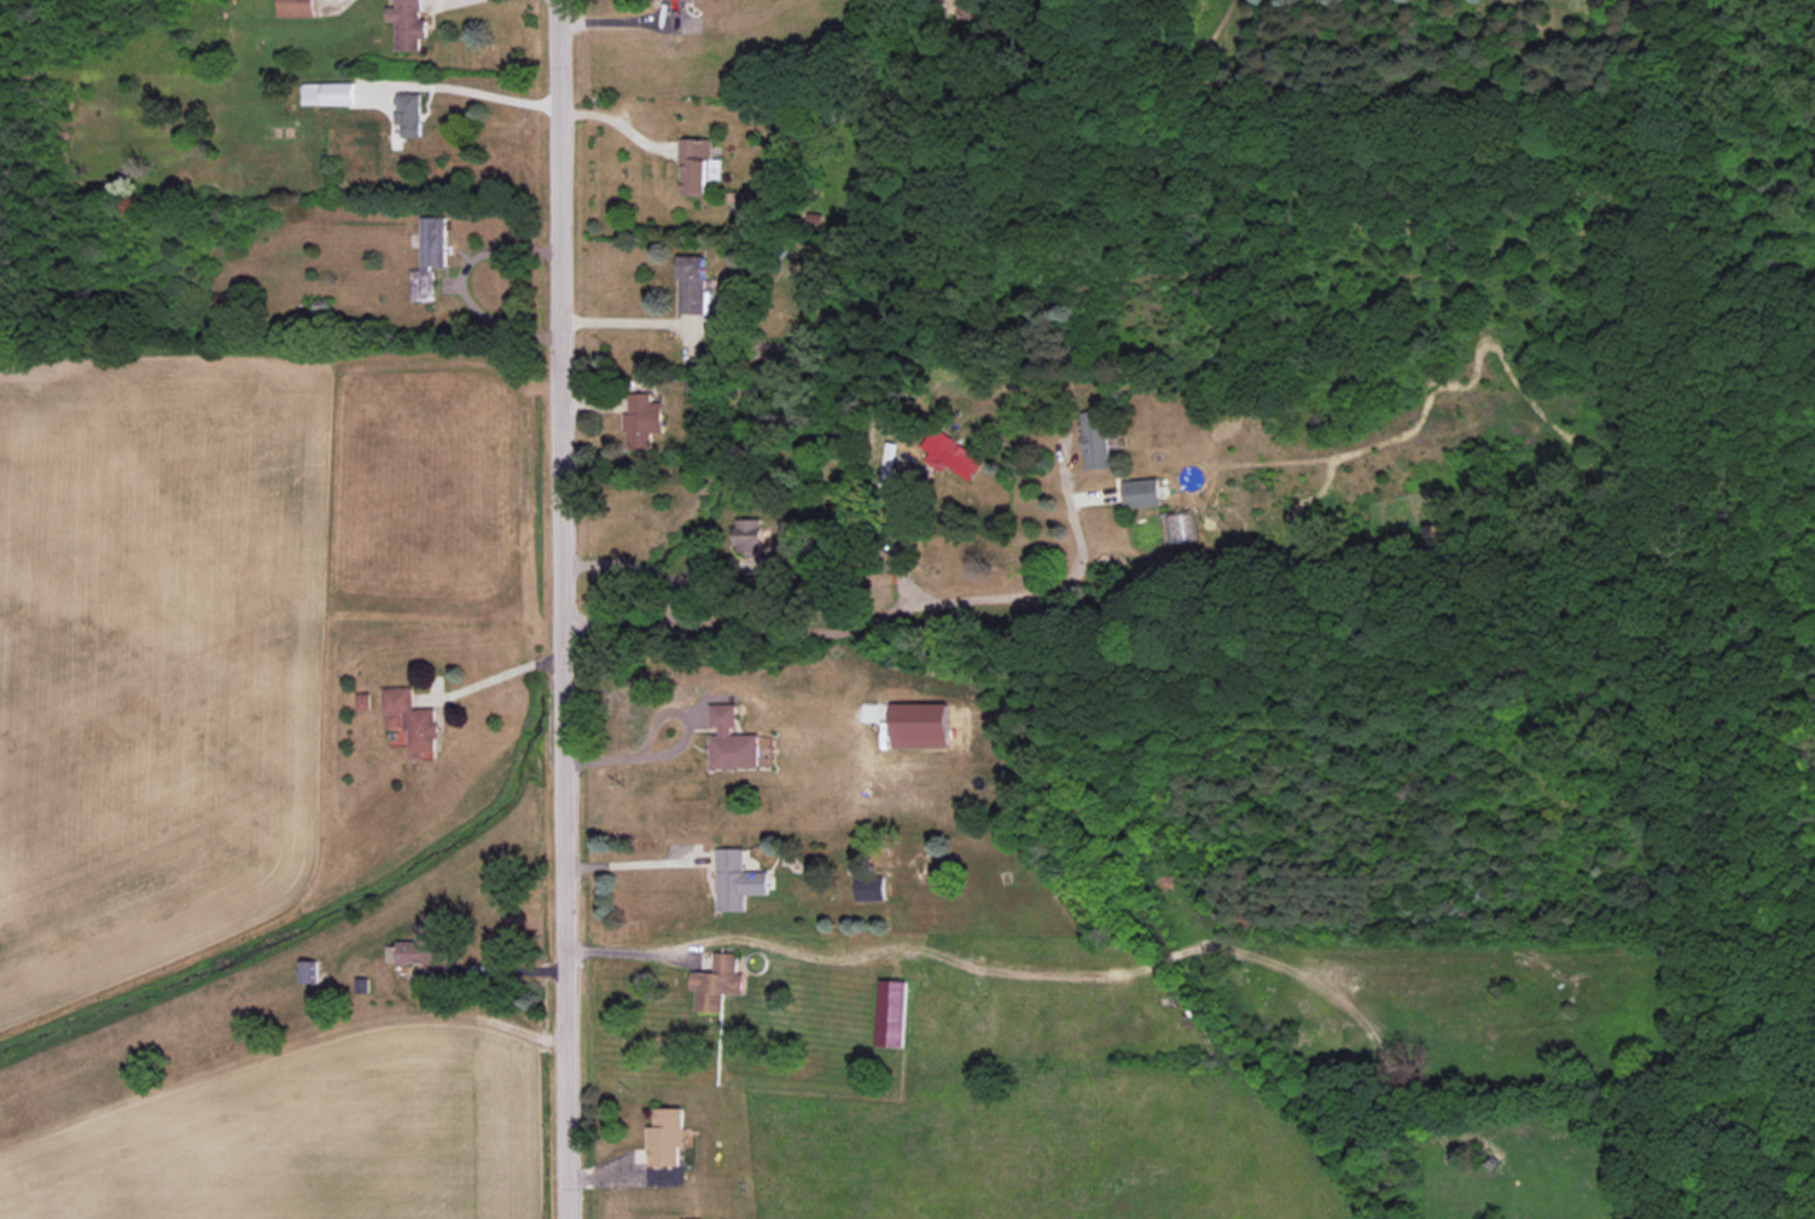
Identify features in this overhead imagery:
road: (434, 0)
building: (297, 7)
building: (407, 24)
road: (460, 89)
building: (327, 93)
building: (408, 114)
building: (697, 166)
building: (429, 259)
building: (691, 284)
road: (460, 285)
road: (635, 324)
building: (642, 419)
building: (1096, 440)
building: (953, 454)
building: (1141, 492)
building: (756, 546)
road: (902, 555)
road: (640, 569)
road: (563, 609)
road: (879, 620)
road: (502, 674)
building: (362, 701)
building: (411, 720)
building: (921, 725)
building: (732, 739)
road: (679, 745)
road: (635, 863)
building: (738, 880)
building: (871, 888)
road: (737, 939)
building: (421, 946)
building: (309, 971)
building: (719, 982)
building: (891, 1012)
building: (667, 1137)

